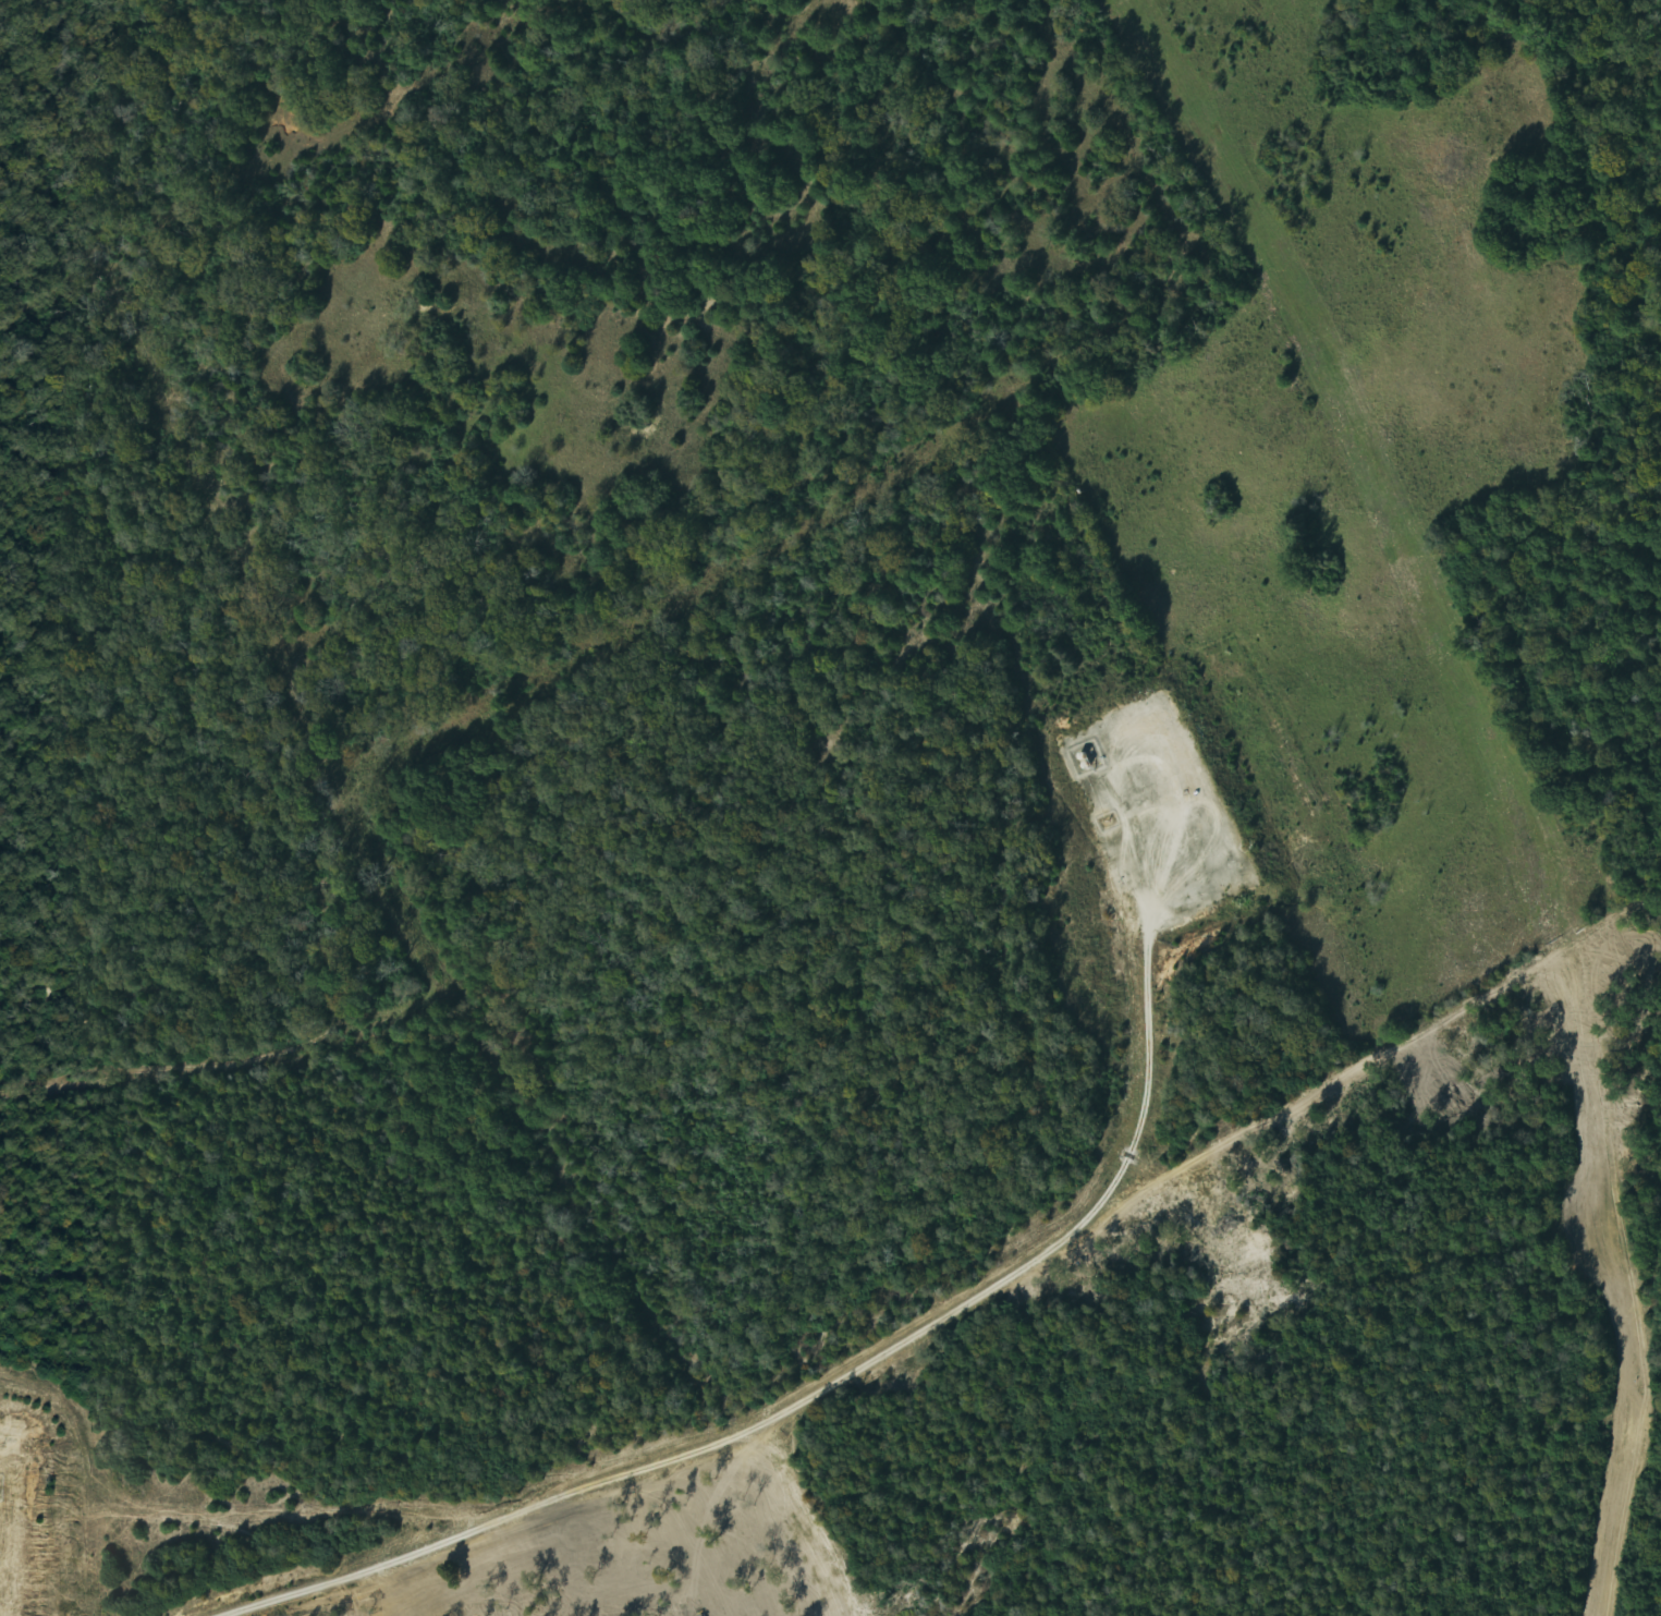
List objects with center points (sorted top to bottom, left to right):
road: (1152, 734)
building: (1077, 757)
silo: (1077, 757)
building: (1082, 767)
silo: (1082, 767)
petroleum well: (1188, 790)
chimney: (1107, 818)
road: (830, 1384)
road: (20, 1511)

